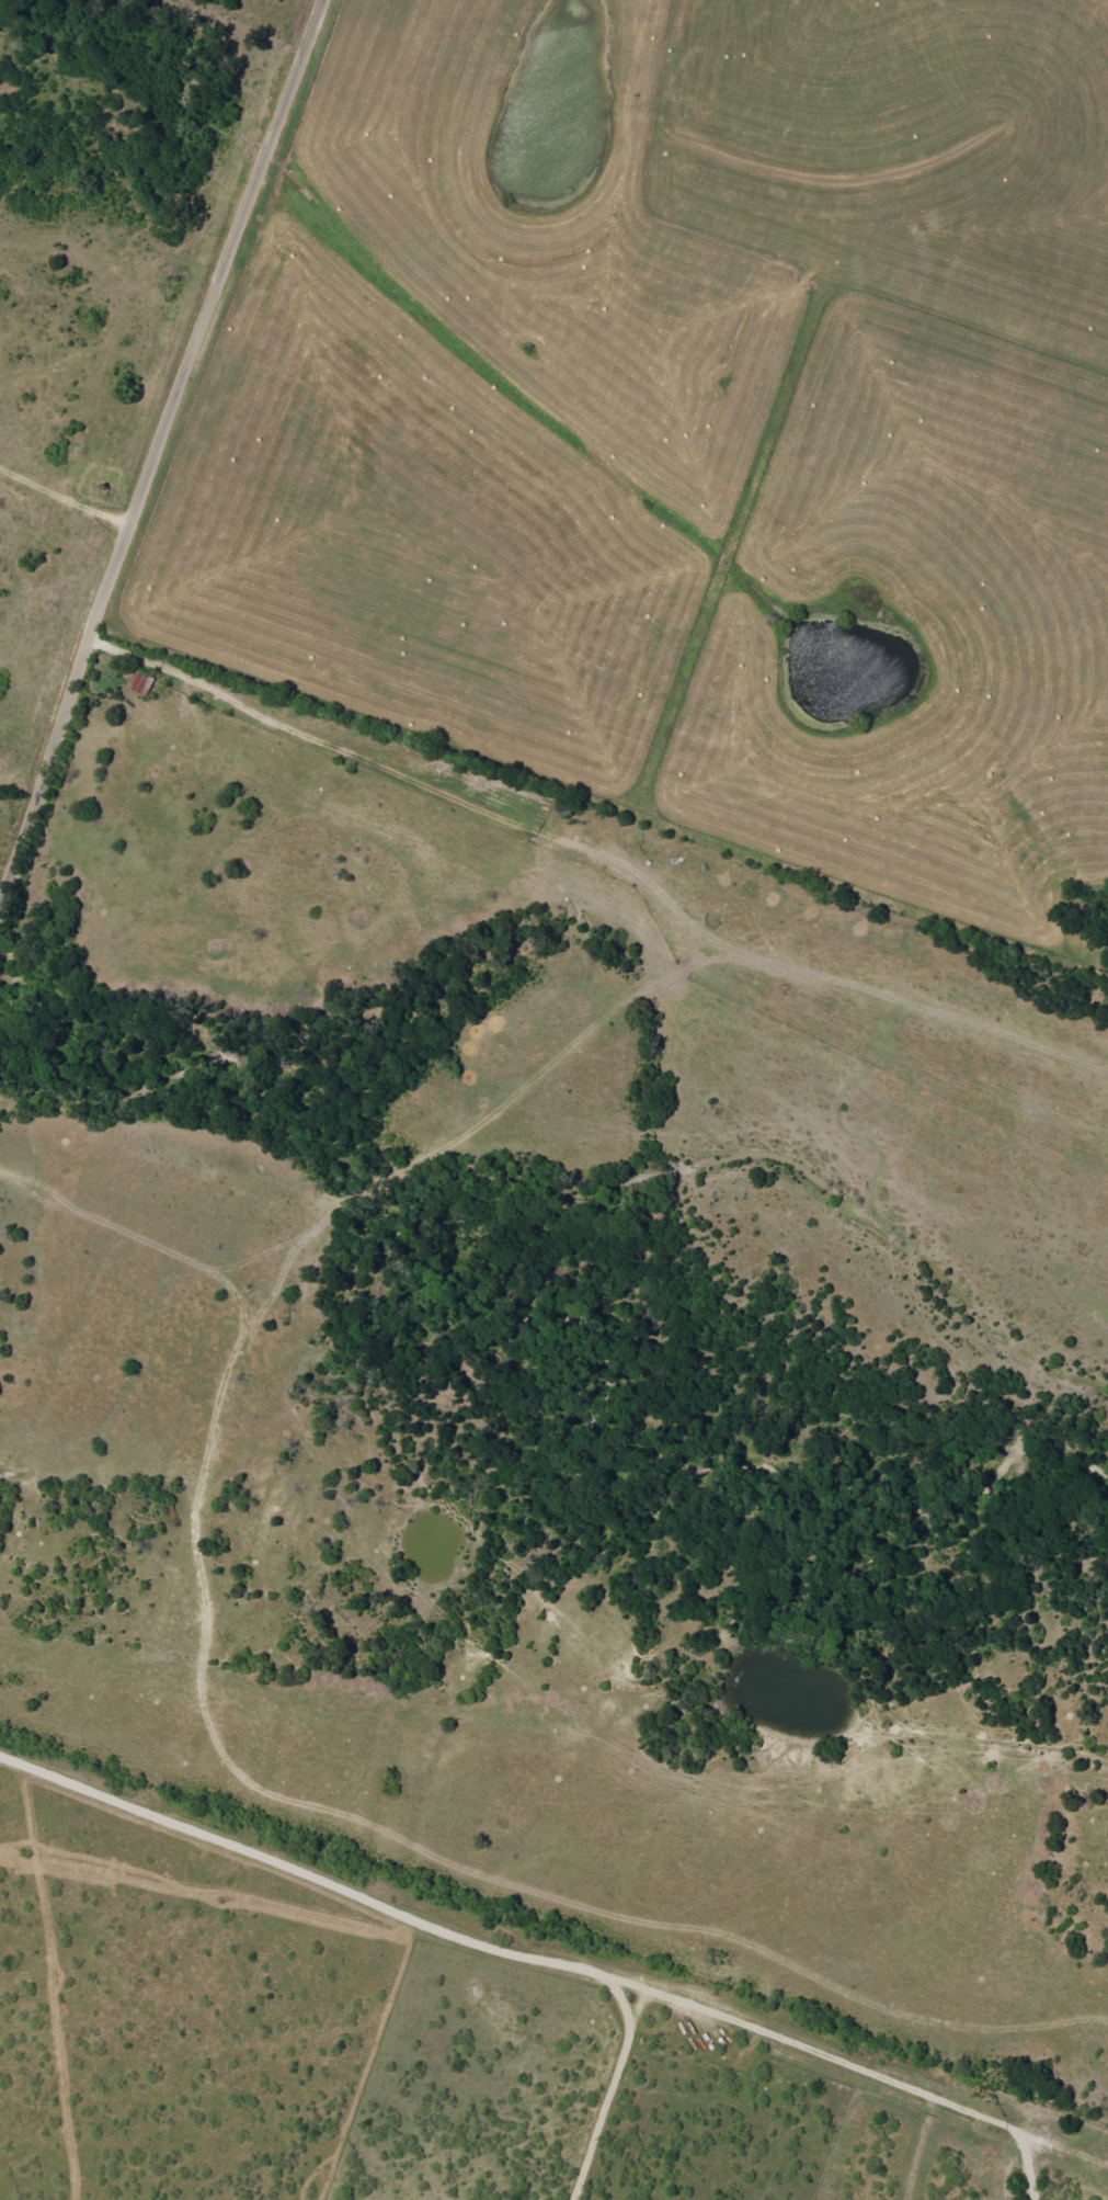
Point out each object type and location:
road: (170, 464)
road: (538, 1964)
road: (613, 2084)

